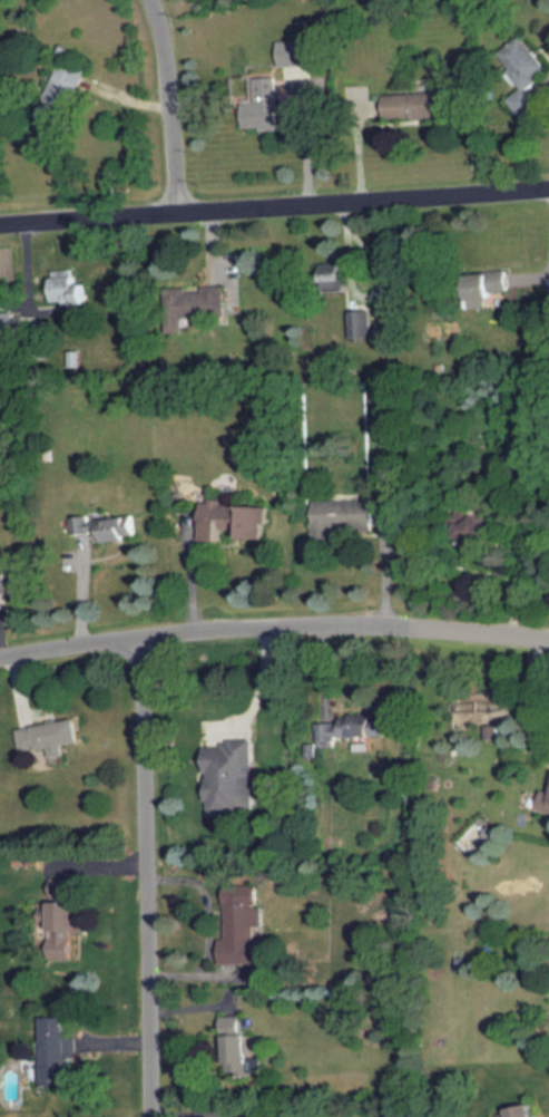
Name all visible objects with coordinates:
building: (61, 45)
building: (295, 48)
building: (525, 74)
building: (59, 90)
road: (176, 104)
building: (262, 106)
building: (415, 106)
road: (305, 144)
road: (274, 204)
road: (533, 271)
road: (29, 273)
building: (484, 284)
building: (203, 301)
building: (360, 317)
building: (75, 354)
building: (342, 515)
building: (234, 521)
building: (105, 527)
building: (473, 527)
road: (383, 564)
building: (3, 577)
road: (273, 625)
building: (347, 726)
building: (48, 736)
building: (231, 778)
building: (543, 807)
building: (473, 836)
road: (151, 875)
building: (61, 917)
road: (213, 922)
building: (241, 924)
building: (56, 1051)
building: (242, 1056)
building: (521, 1111)

